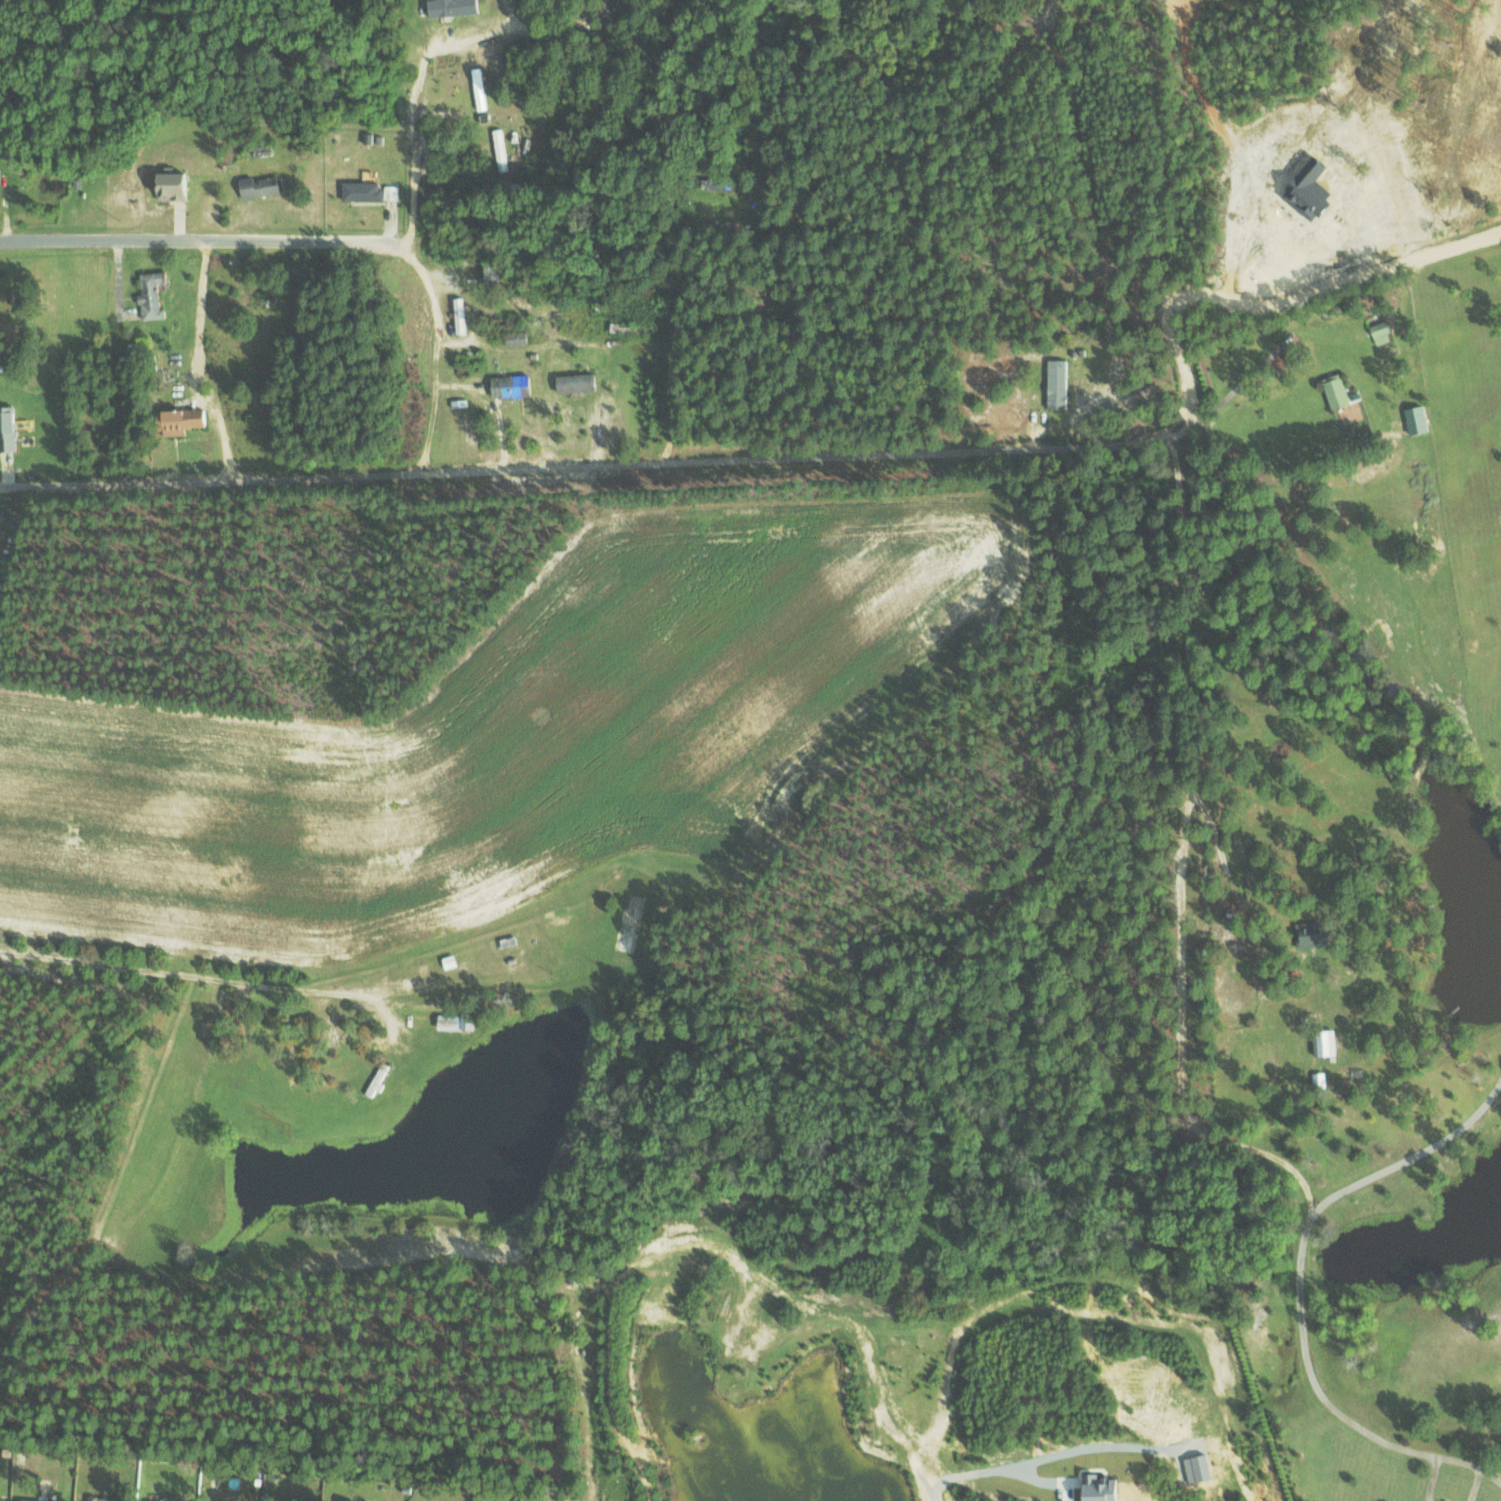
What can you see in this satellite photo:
building: (457, 7)
building: (481, 89)
road: (415, 125)
building: (502, 150)
building: (1, 177)
building: (177, 184)
building: (263, 185)
building: (372, 191)
road: (199, 240)
building: (155, 294)
building: (461, 314)
building: (1378, 330)
building: (520, 338)
building: (582, 382)
building: (1054, 383)
building: (516, 385)
building: (1333, 391)
building: (1414, 418)
building: (190, 419)
building: (10, 428)
road: (836, 453)
building: (459, 1022)
building: (1321, 1042)
road: (1301, 1289)
building: (178, 1498)
building: (1, 1499)
building: (112, 1499)
building: (32, 1500)

